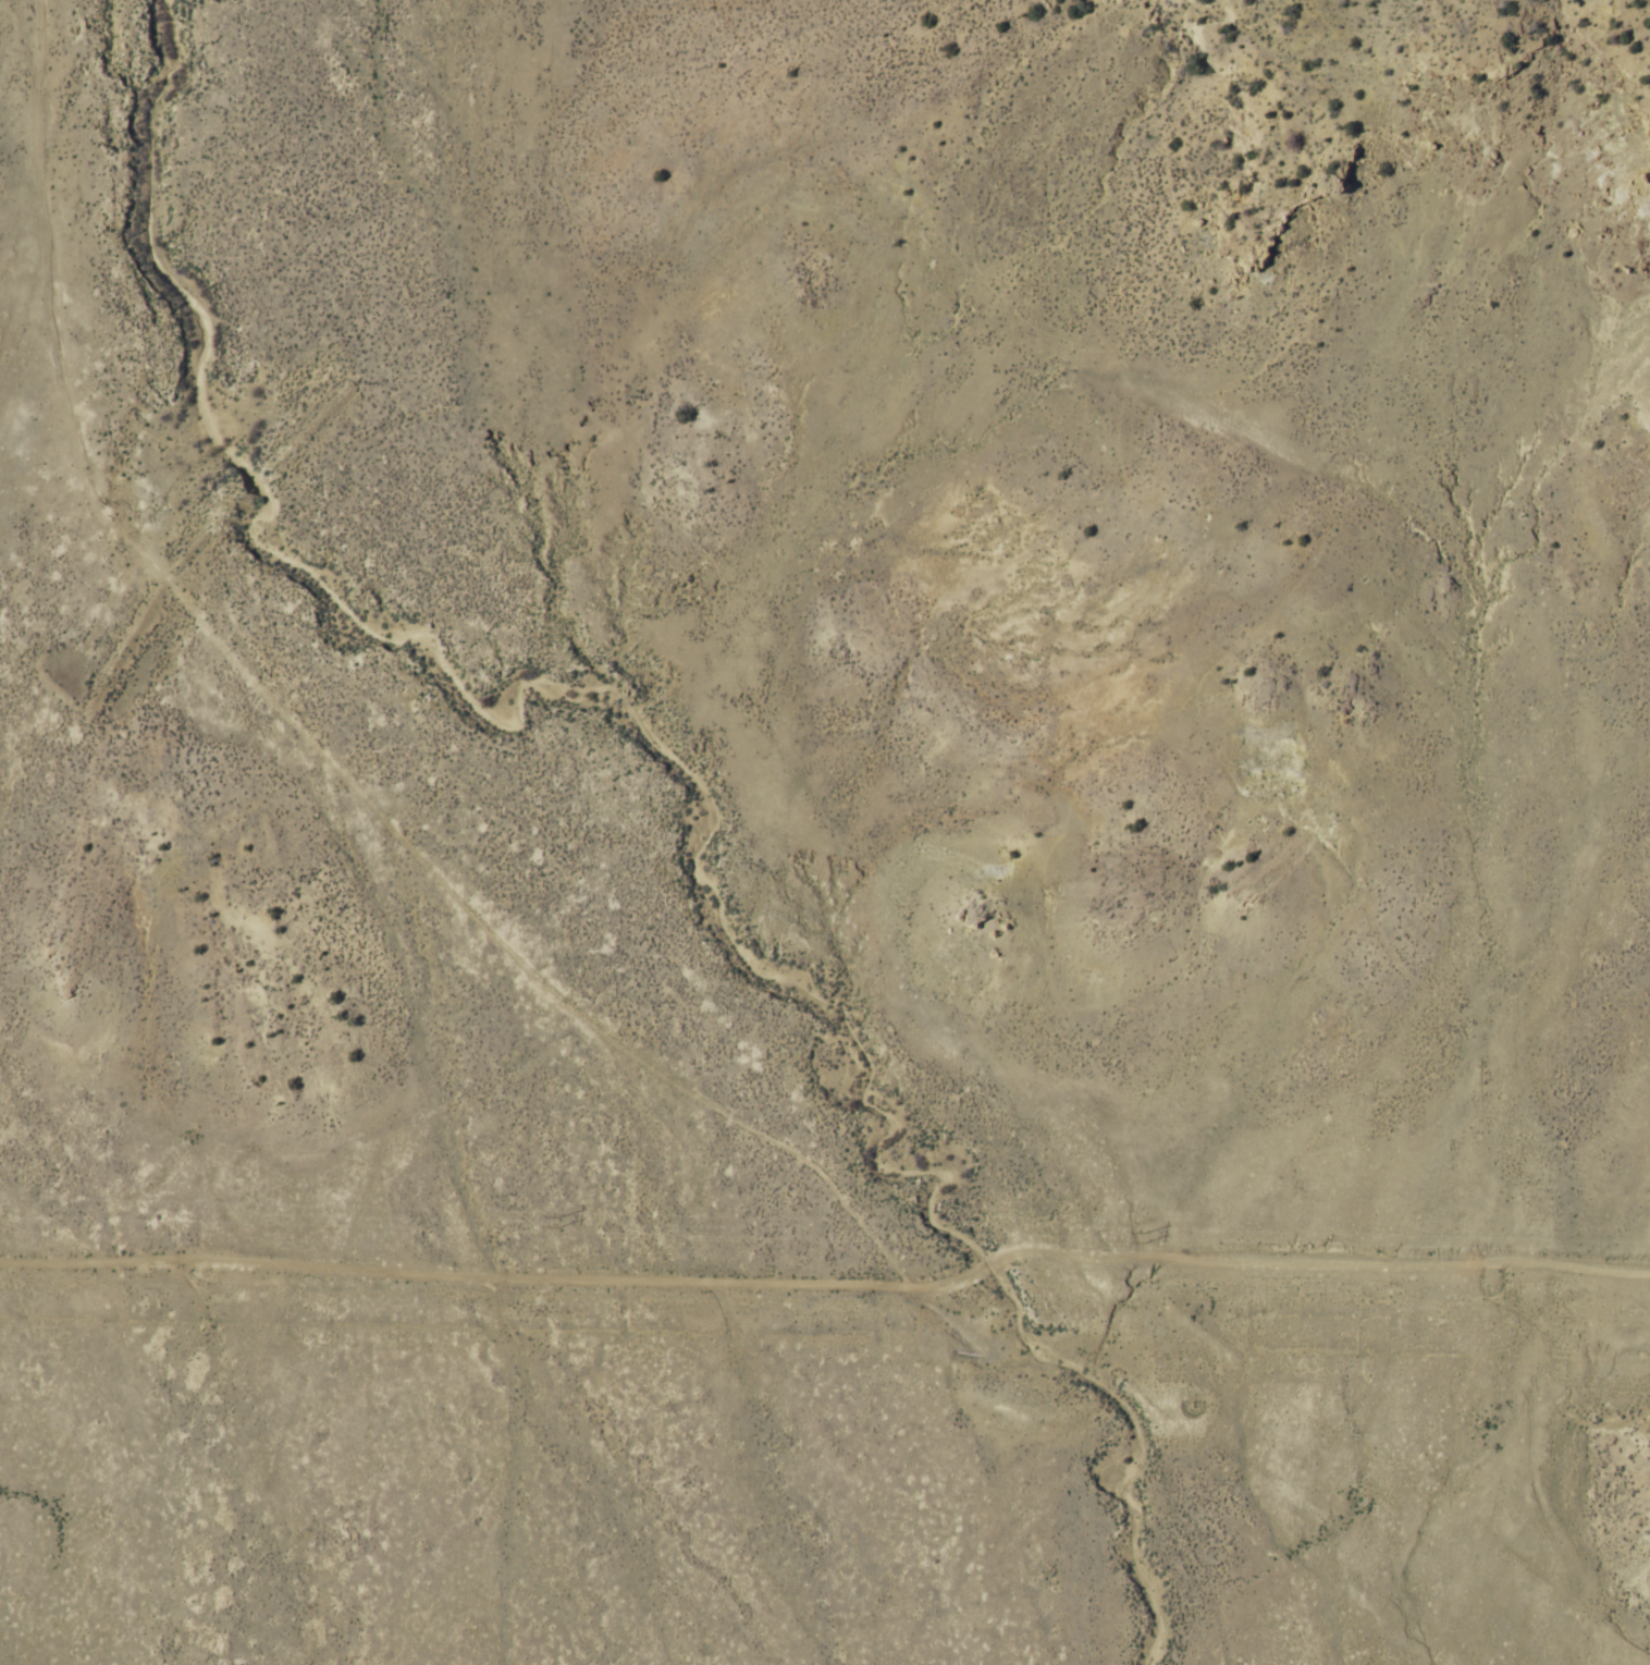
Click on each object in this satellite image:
power tower: (558, 1224)
power tower: (1134, 1238)

